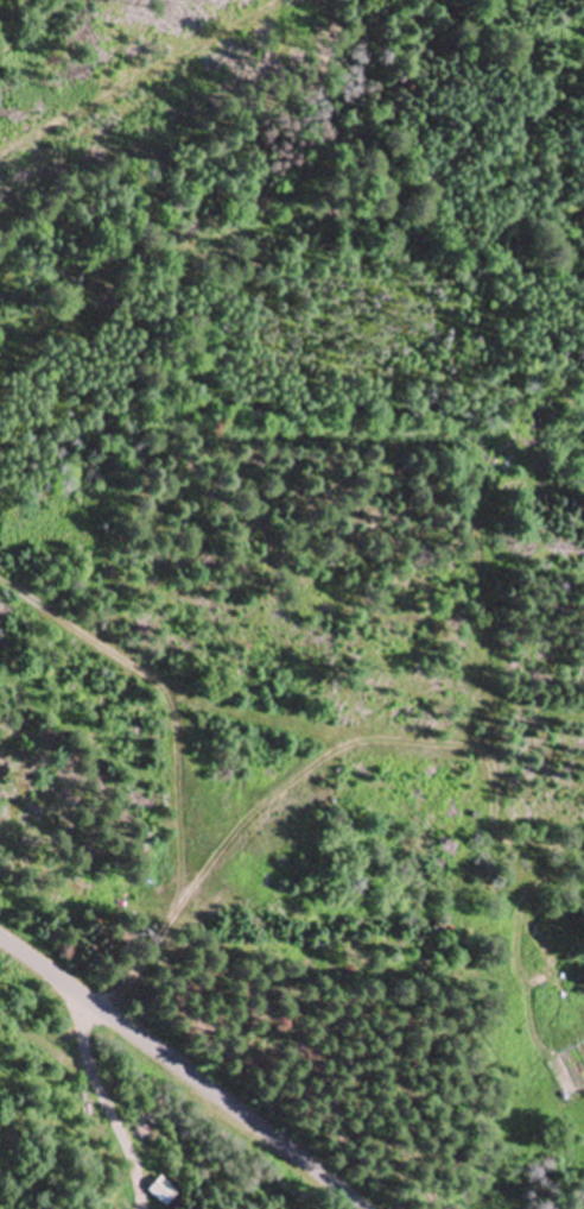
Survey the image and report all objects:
road: (172, 869)
road: (171, 1076)
road: (131, 1107)
building: (164, 1192)

